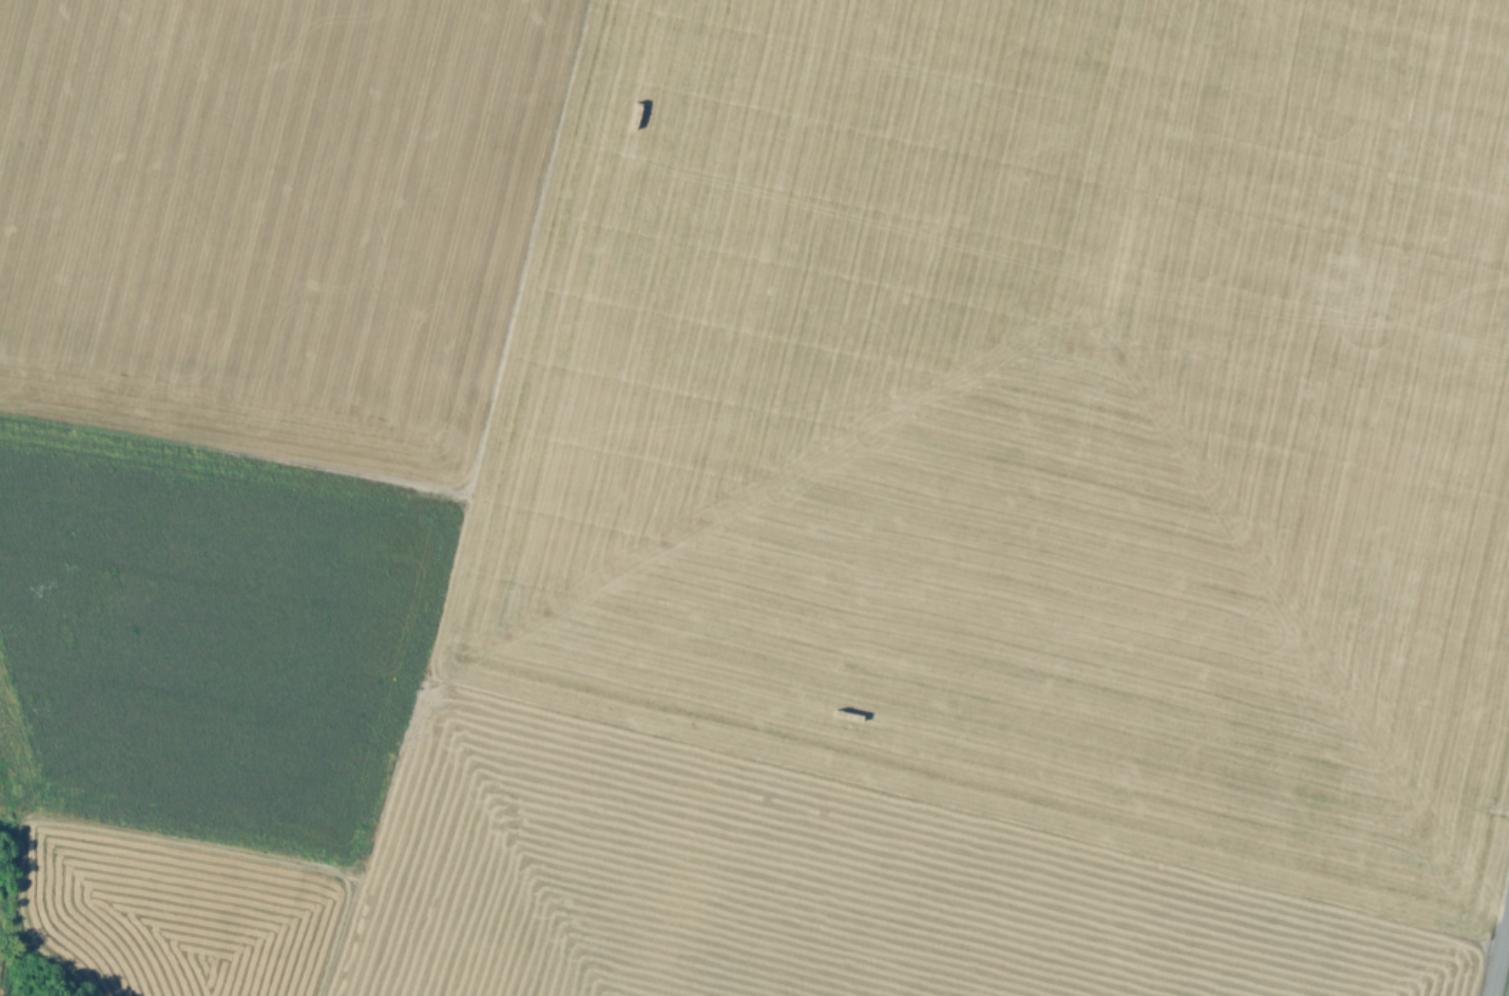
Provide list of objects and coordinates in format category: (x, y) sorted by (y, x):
crop: (273, 218)
crop: (1030, 420)
crop: (795, 886)
road: (1498, 951)
crop: (1506, 984)

